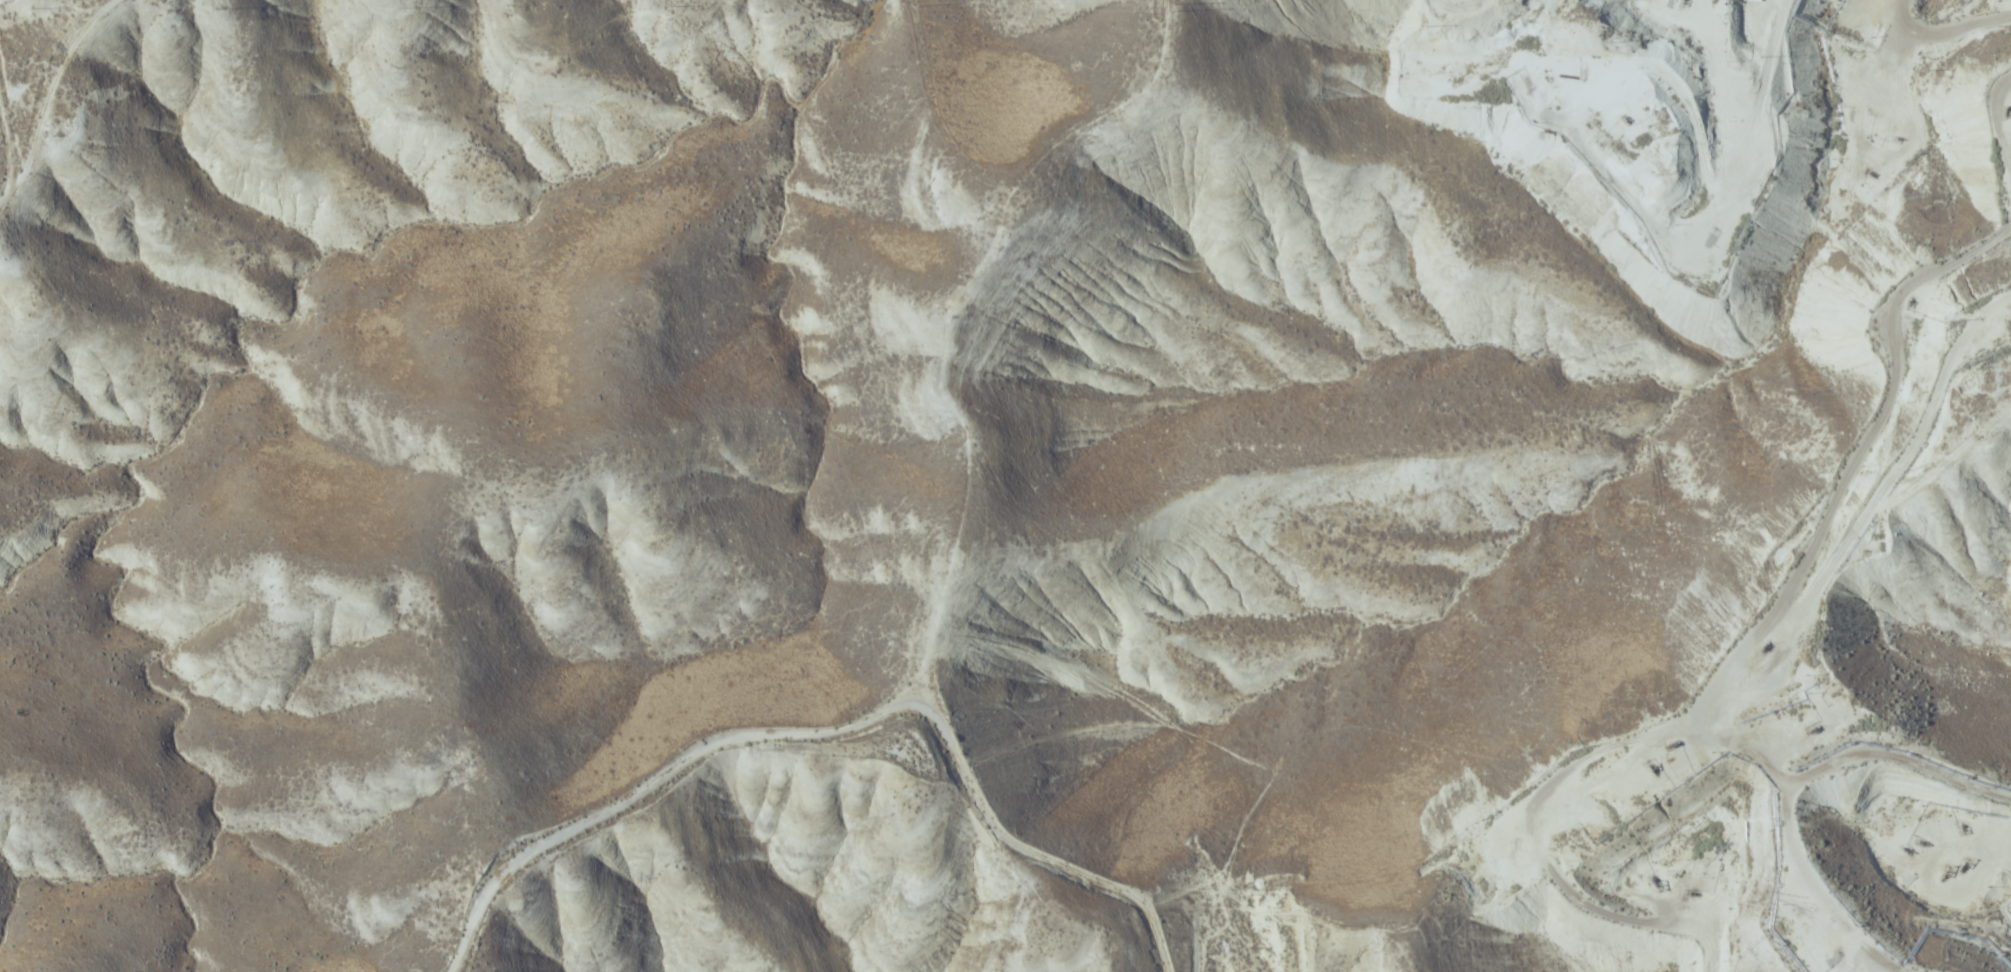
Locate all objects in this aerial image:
road: (1695, 9)
road: (53, 97)

